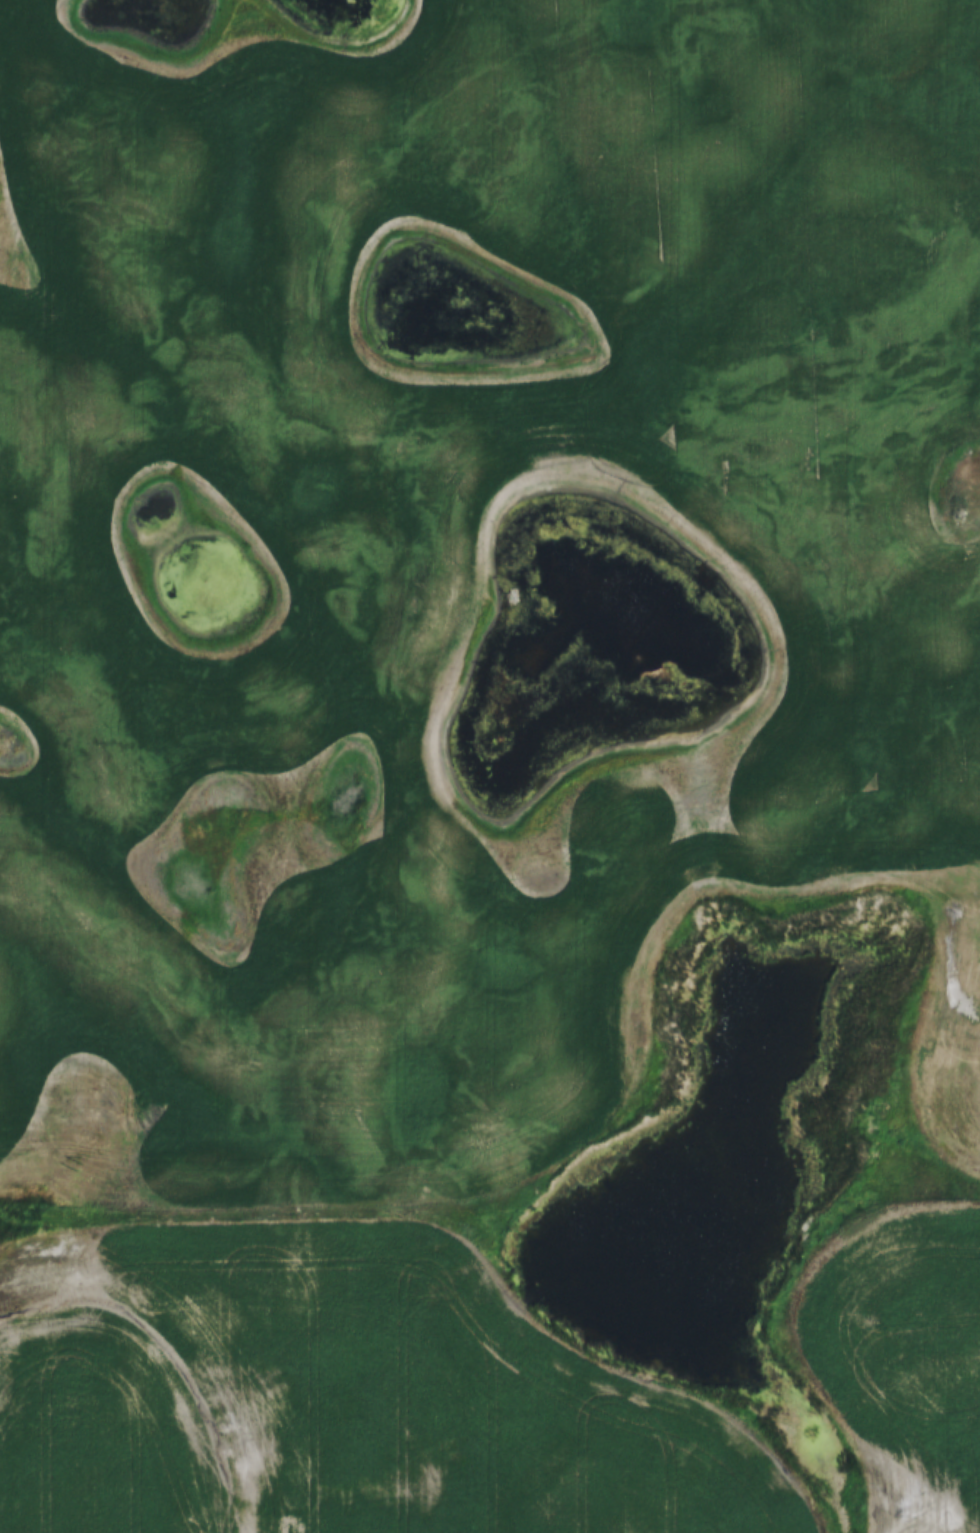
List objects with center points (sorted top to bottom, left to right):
road: (272, 1200)

